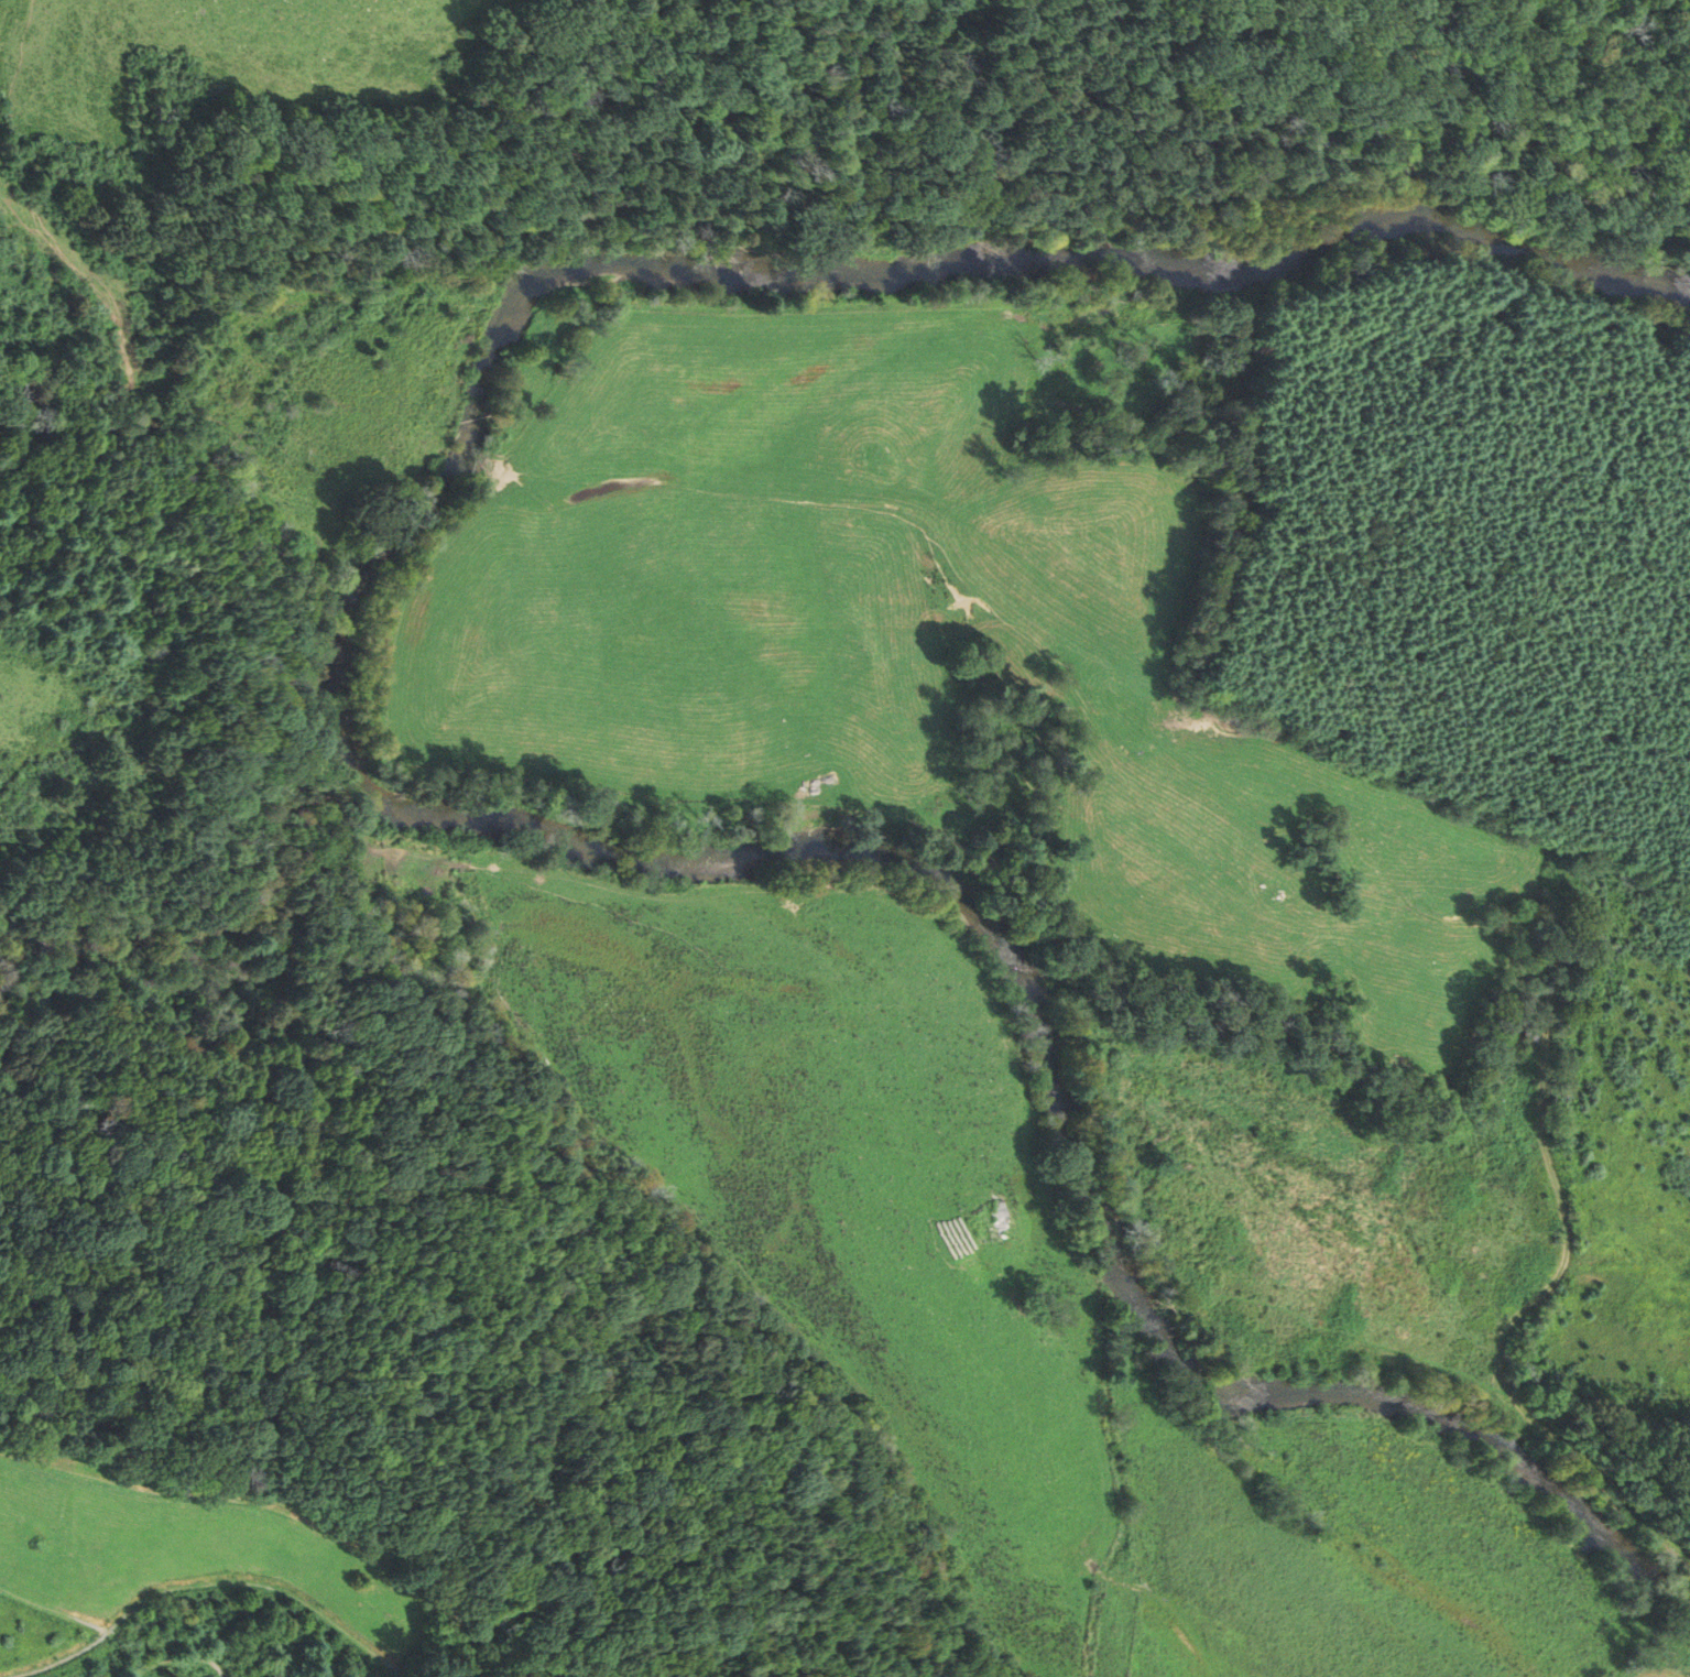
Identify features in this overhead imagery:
river: (355, 776)
building: (1522, 1041)
building: (996, 1226)
road: (294, 1515)
park: (218, 1581)
road: (262, 1585)
road: (53, 1608)
road: (184, 1658)
road: (65, 1662)

